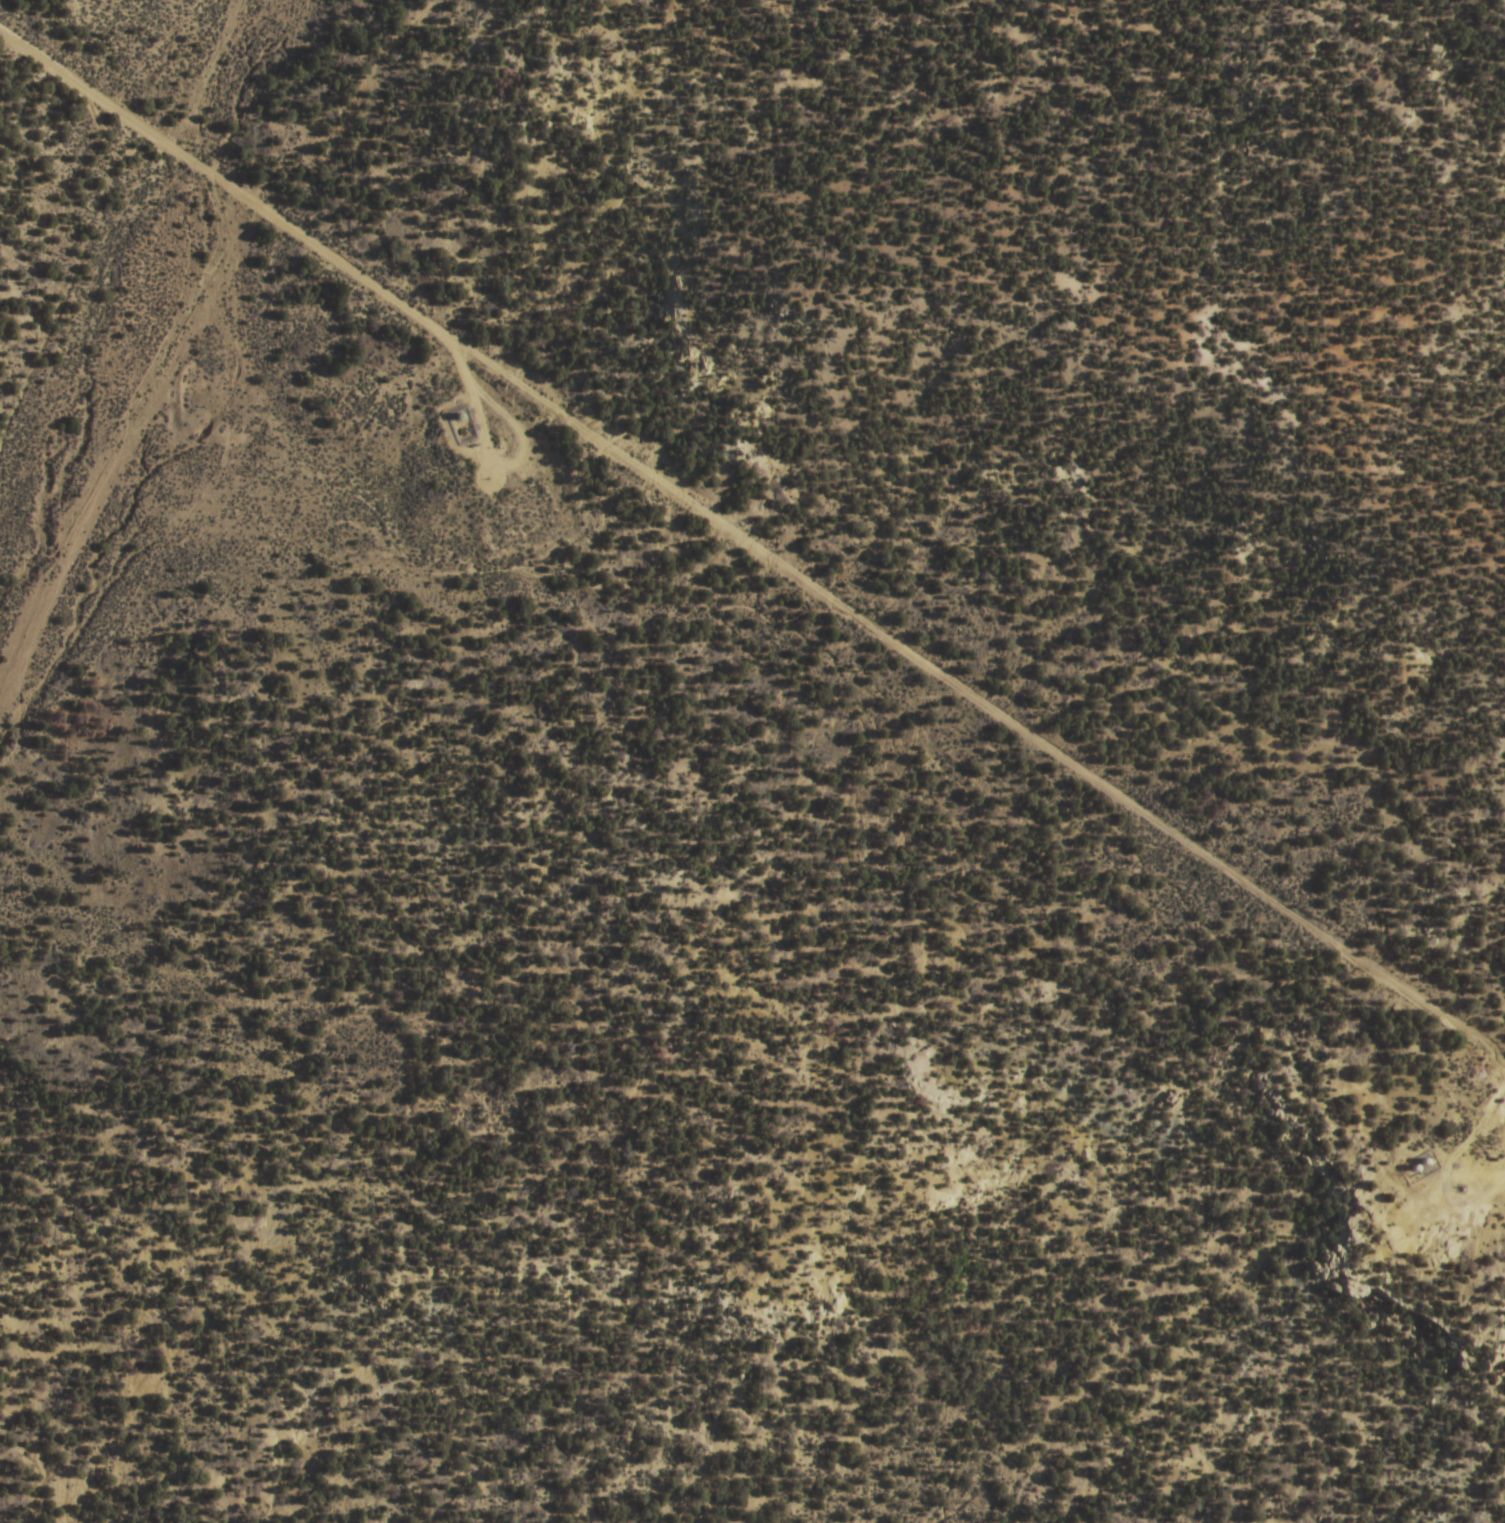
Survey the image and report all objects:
road: (770, 564)

